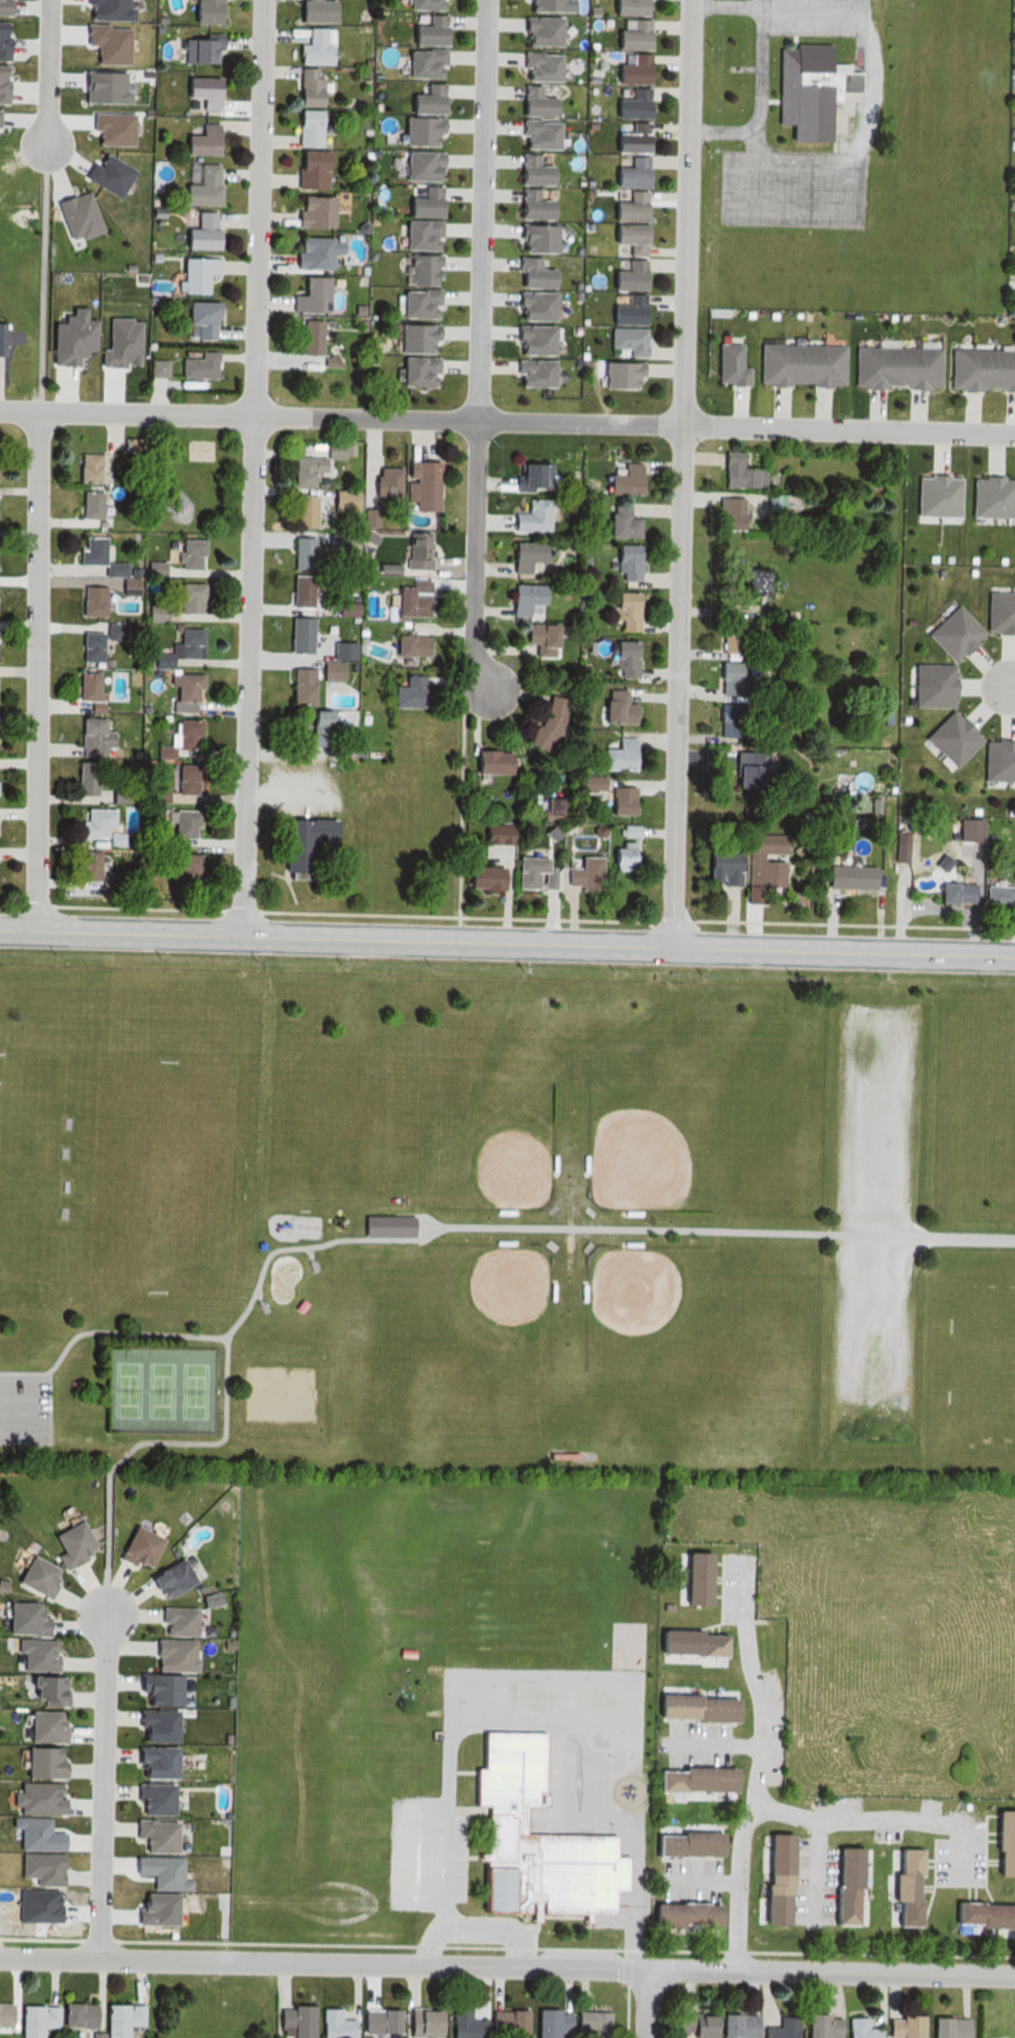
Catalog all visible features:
building: (421, 4)
building: (542, 4)
building: (627, 6)
building: (202, 10)
building: (311, 10)
building: (425, 31)
building: (536, 31)
building: (630, 34)
building: (307, 47)
building: (196, 48)
building: (418, 63)
building: (535, 66)
building: (629, 69)
building: (302, 86)
building: (198, 90)
building: (803, 91)
building: (422, 98)
building: (530, 101)
building: (627, 103)
building: (302, 127)
building: (416, 129)
building: (533, 134)
building: (625, 138)
building: (197, 139)
building: (416, 165)
building: (305, 169)
building: (526, 170)
building: (625, 172)
building: (196, 183)
building: (420, 202)
building: (526, 205)
building: (624, 207)
building: (308, 210)
building: (78, 216)
building: (195, 231)
building: (415, 234)
building: (531, 237)
building: (623, 237)
building: (308, 252)
building: (417, 269)
building: (190, 272)
building: (527, 274)
building: (623, 276)
building: (305, 294)
building: (412, 303)
building: (530, 306)
building: (623, 310)
building: (196, 319)
building: (304, 336)
building: (411, 337)
building: (530, 340)
building: (621, 340)
building: (727, 363)
building: (812, 364)
building: (192, 366)
building: (894, 367)
building: (981, 370)
building: (411, 371)
building: (529, 373)
building: (614, 373)
building: (330, 449)
building: (82, 466)
building: (299, 468)
building: (734, 472)
building: (526, 475)
building: (618, 479)
building: (381, 480)
building: (418, 483)
building: (338, 499)
building: (84, 503)
building: (778, 504)
building: (297, 509)
building: (724, 512)
building: (526, 516)
building: (615, 521)
building: (85, 549)
building: (410, 550)
building: (296, 551)
building: (183, 552)
building: (519, 554)
building: (620, 562)
building: (108, 569)
building: (148, 569)
building: (750, 582)
building: (123, 585)
building: (295, 590)
building: (184, 596)
building: (519, 597)
building: (406, 598)
building: (86, 599)
building: (339, 607)
building: (620, 611)
building: (150, 612)
building: (107, 629)
building: (293, 633)
building: (724, 635)
building: (536, 638)
building: (404, 644)
building: (84, 645)
building: (176, 645)
building: (618, 658)
building: (331, 659)
building: (725, 677)
building: (295, 684)
building: (81, 685)
building: (933, 686)
building: (178, 692)
building: (404, 692)
building: (611, 708)
building: (722, 718)
building: (315, 728)
building: (180, 734)
building: (84, 735)
building: (951, 739)
building: (158, 751)
building: (612, 756)
building: (486, 762)
building: (1000, 762)
building: (741, 768)
building: (81, 776)
building: (181, 778)
building: (586, 784)
building: (116, 793)
building: (154, 794)
building: (616, 799)
building: (549, 808)
building: (89, 820)
building: (178, 823)
building: (970, 831)
building: (623, 832)
building: (492, 835)
building: (110, 838)
building: (303, 845)
building: (616, 857)
building: (82, 864)
building: (719, 865)
building: (765, 866)
building: (182, 869)
building: (523, 871)
building: (580, 871)
building: (1013, 872)
building: (480, 877)
building: (853, 878)
building: (542, 880)
building: (103, 882)
building: (951, 893)
building: (991, 895)
park: (498, 1149)
park: (648, 1150)
park: (28, 1169)
park: (159, 1173)
park: (507, 1196)
parking lot: (874, 1218)
building: (390, 1229)
park: (498, 1294)
park: (643, 1297)
park: (158, 1386)
parking lot: (24, 1410)
building: (68, 1545)
building: (137, 1546)
building: (36, 1578)
building: (693, 1578)
building: (166, 1580)
building: (203, 1601)
building: (22, 1619)
building: (173, 1622)
building: (691, 1644)
building: (168, 1654)
building: (38, 1671)
building: (154, 1687)
building: (698, 1709)
building: (151, 1726)
building: (40, 1727)
building: (40, 1759)
building: (695, 1781)
building: (143, 1795)
building: (532, 1840)
building: (1003, 1843)
building: (685, 1845)
building: (771, 1878)
building: (839, 1886)
building: (900, 1886)
building: (982, 1914)
building: (679, 1915)
building: (71, 2014)
building: (117, 2019)
building: (31, 2020)
building: (374, 2021)
building: (290, 2022)
building: (502, 2022)
building: (586, 2022)
building: (417, 2023)
building: (545, 2023)
building: (689, 2024)
building: (329, 2025)
building: (459, 2025)
building: (734, 2025)
building: (816, 2027)
building: (898, 2027)
building: (942, 2027)
building: (777, 2029)
building: (855, 2030)

